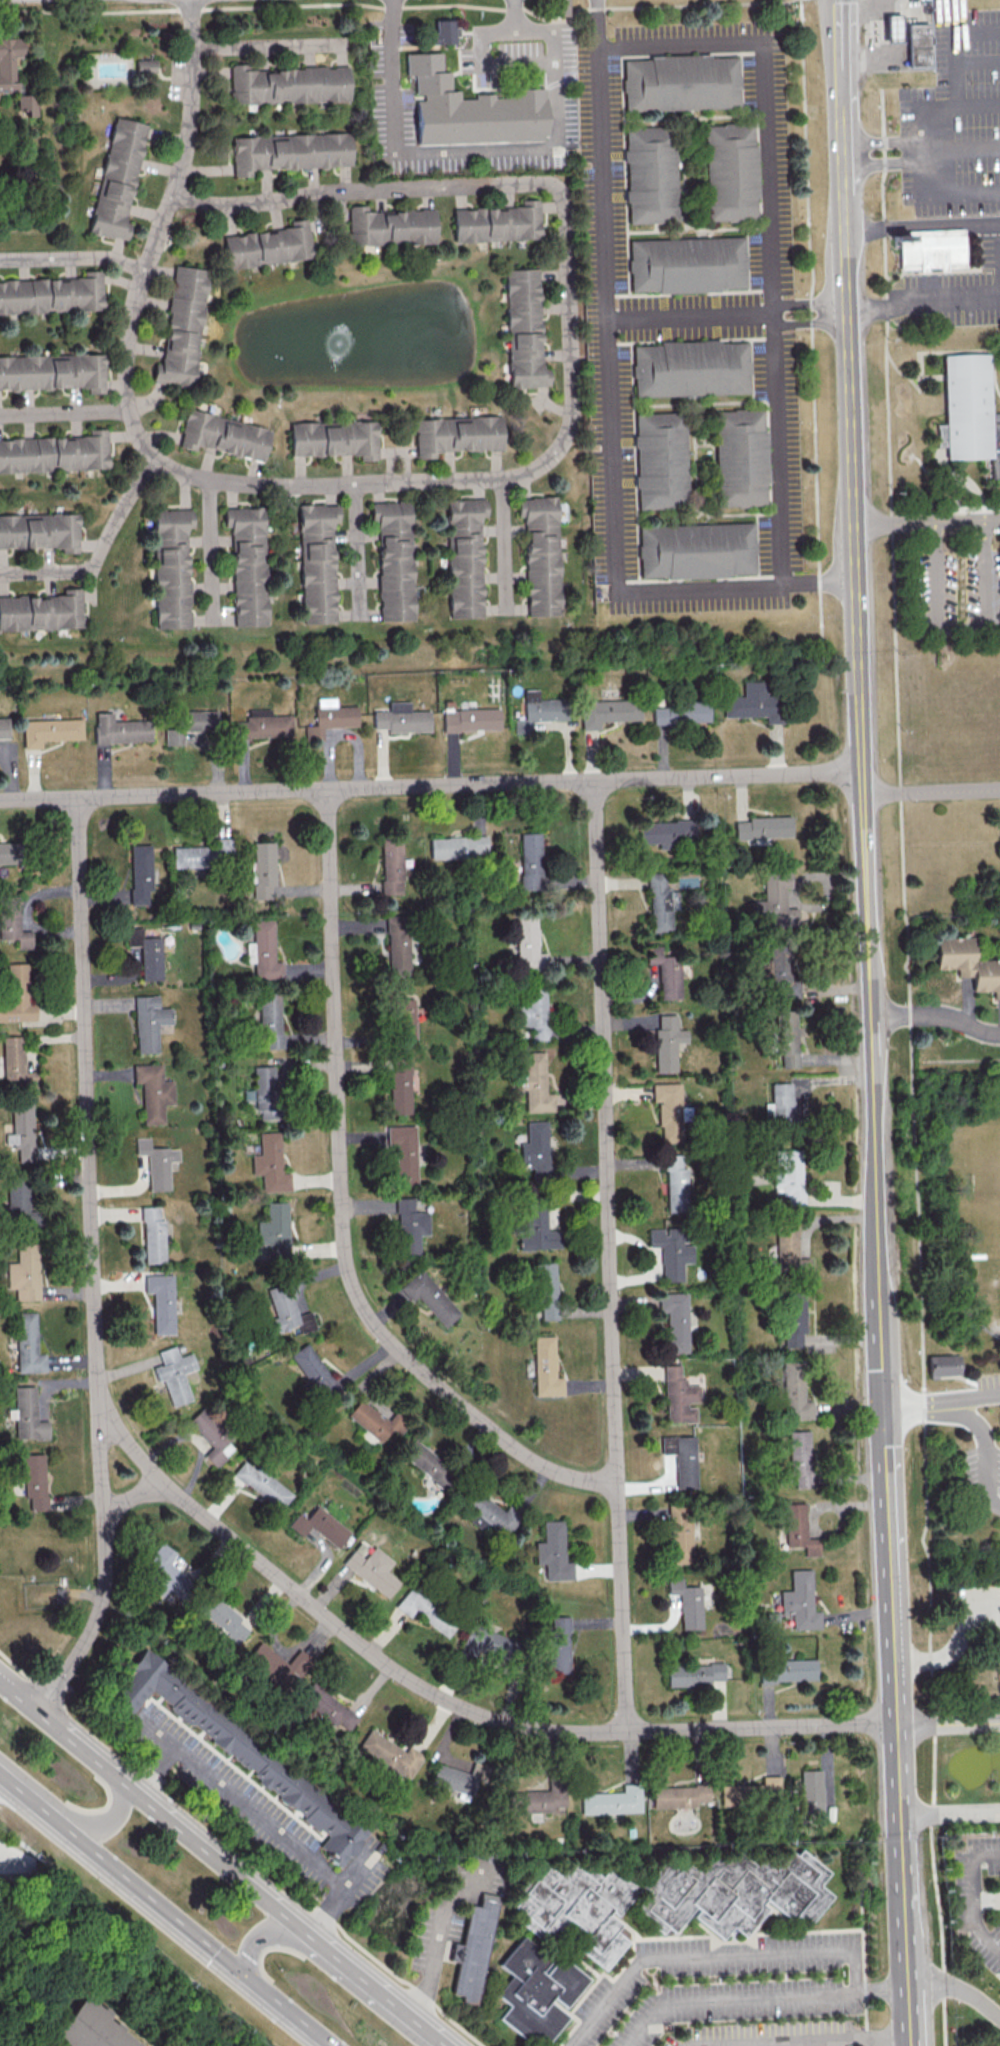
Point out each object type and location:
road: (402, 6)
building: (553, 8)
road: (863, 9)
road: (952, 15)
building: (890, 27)
gas station: (890, 27)
building: (443, 36)
building: (915, 43)
road: (839, 44)
road: (269, 48)
road: (873, 48)
road: (977, 61)
building: (9, 63)
road: (485, 63)
building: (144, 69)
building: (287, 84)
building: (679, 84)
road: (190, 97)
building: (27, 104)
road: (977, 106)
road: (931, 110)
building: (475, 111)
parking lot: (954, 118)
road: (840, 126)
road: (887, 142)
road: (966, 150)
building: (289, 151)
road: (490, 152)
road: (887, 162)
building: (729, 174)
building: (649, 176)
building: (117, 179)
building: (498, 222)
building: (390, 225)
road: (921, 226)
road: (771, 229)
road: (843, 237)
building: (268, 245)
building: (935, 249)
road: (72, 260)
building: (684, 267)
parking lot: (957, 291)
building: (52, 293)
road: (921, 298)
road: (809, 305)
road: (689, 319)
road: (811, 322)
road: (810, 323)
building: (182, 327)
building: (524, 328)
building: (689, 370)
building: (53, 371)
road: (65, 411)
building: (967, 412)
road: (611, 418)
building: (457, 434)
building: (224, 435)
building: (334, 438)
building: (54, 452)
building: (739, 460)
building: (659, 462)
road: (542, 464)
road: (926, 523)
building: (40, 531)
road: (503, 546)
road: (100, 551)
road: (210, 552)
road: (359, 552)
building: (695, 552)
building: (540, 554)
building: (465, 556)
building: (394, 559)
building: (317, 562)
building: (247, 564)
building: (171, 567)
building: (41, 611)
road: (964, 628)
building: (755, 702)
building: (538, 711)
building: (608, 712)
building: (680, 712)
building: (331, 716)
building: (401, 718)
building: (471, 719)
building: (187, 724)
building: (262, 725)
building: (4, 728)
building: (120, 729)
building: (50, 731)
road: (859, 731)
road: (430, 787)
road: (931, 791)
building: (763, 827)
building: (668, 833)
building: (457, 847)
building: (9, 852)
building: (204, 853)
building: (531, 861)
building: (391, 867)
building: (262, 870)
building: (140, 874)
building: (774, 902)
building: (660, 903)
building: (12, 922)
building: (528, 943)
building: (398, 944)
building: (263, 951)
building: (147, 953)
building: (968, 963)
building: (665, 971)
building: (777, 972)
building: (17, 993)
building: (533, 1013)
road: (936, 1014)
building: (402, 1019)
building: (269, 1020)
building: (149, 1022)
building: (786, 1037)
building: (667, 1042)
building: (15, 1060)
road: (912, 1068)
building: (535, 1083)
building: (400, 1087)
building: (152, 1091)
building: (265, 1091)
building: (779, 1103)
building: (668, 1110)
building: (21, 1130)
building: (535, 1149)
building: (403, 1152)
building: (156, 1162)
building: (269, 1163)
building: (787, 1174)
building: (675, 1182)
park: (983, 1192)
building: (17, 1204)
road: (340, 1209)
building: (409, 1226)
building: (274, 1229)
building: (538, 1231)
building: (152, 1235)
building: (672, 1251)
building: (789, 1252)
road: (607, 1257)
road: (90, 1265)
park: (994, 1268)
building: (24, 1272)
road: (879, 1279)
building: (546, 1291)
building: (429, 1297)
building: (161, 1302)
building: (286, 1311)
building: (676, 1320)
building: (794, 1320)
building: (27, 1344)
building: (546, 1367)
building: (942, 1367)
building: (316, 1373)
building: (174, 1374)
road: (957, 1378)
building: (795, 1391)
building: (679, 1396)
road: (902, 1406)
road: (955, 1414)
building: (28, 1415)
building: (375, 1421)
building: (212, 1437)
parking lot: (985, 1447)
building: (682, 1458)
building: (800, 1458)
building: (428, 1463)
road: (885, 1471)
building: (34, 1480)
building: (262, 1483)
road: (130, 1497)
building: (319, 1526)
building: (798, 1529)
building: (681, 1533)
building: (553, 1551)
building: (371, 1568)
building: (164, 1572)
building: (800, 1601)
building: (687, 1602)
building: (222, 1616)
road: (891, 1628)
building: (485, 1642)
building: (558, 1645)
building: (277, 1667)
building: (997, 1667)
building: (787, 1670)
building: (693, 1674)
road: (440, 1697)
building: (328, 1706)
road: (896, 1725)
road: (948, 1726)
building: (240, 1752)
building: (390, 1757)
road: (898, 1772)
building: (811, 1790)
building: (752, 1792)
road: (29, 1795)
building: (678, 1796)
building: (612, 1800)
building: (538, 1801)
road: (154, 1808)
road: (950, 1812)
road: (261, 1815)
road: (103, 1821)
road: (242, 1835)
building: (732, 1892)
road: (974, 1897)
building: (576, 1907)
road: (905, 1930)
road: (195, 1933)
road: (134, 1936)
road: (265, 1937)
road: (439, 1940)
building: (473, 1950)
road: (788, 1954)
road: (864, 1967)
traffic signals: (240, 1971)
parking lot: (721, 1986)
road: (373, 1988)
building: (536, 1991)
road: (735, 2001)
building: (94, 2029)
parking lot: (768, 2034)
road: (878, 2038)
road: (782, 2043)
road: (441, 2044)

